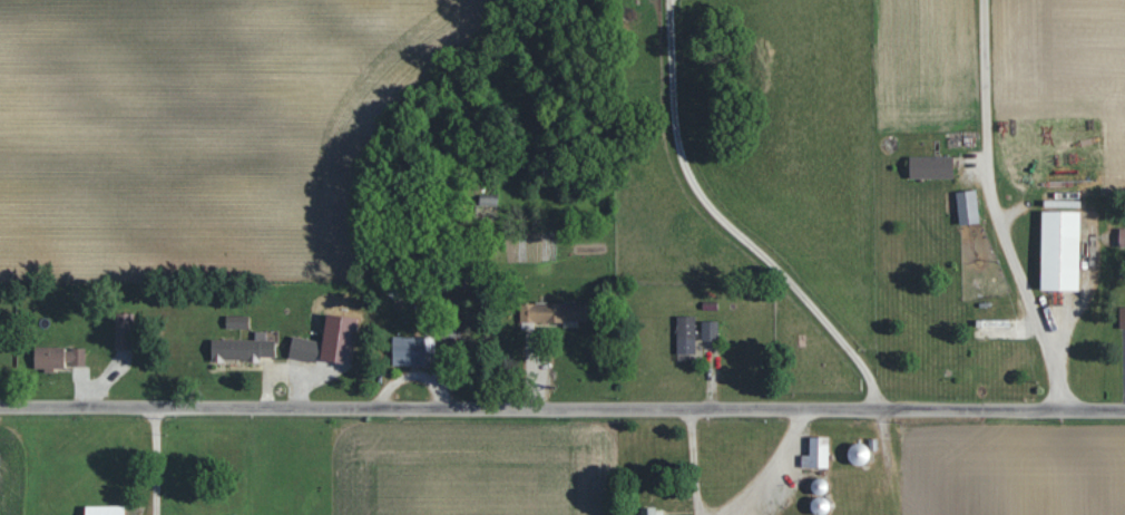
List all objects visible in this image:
building: (930, 167)
building: (967, 207)
road: (994, 208)
road: (722, 224)
building: (1122, 237)
building: (1059, 251)
building: (550, 314)
building: (1122, 318)
building: (232, 322)
building: (710, 330)
building: (123, 331)
building: (685, 334)
building: (242, 349)
building: (303, 349)
building: (412, 351)
building: (58, 358)
road: (561, 408)
road: (150, 460)
road: (689, 461)
road: (772, 472)

